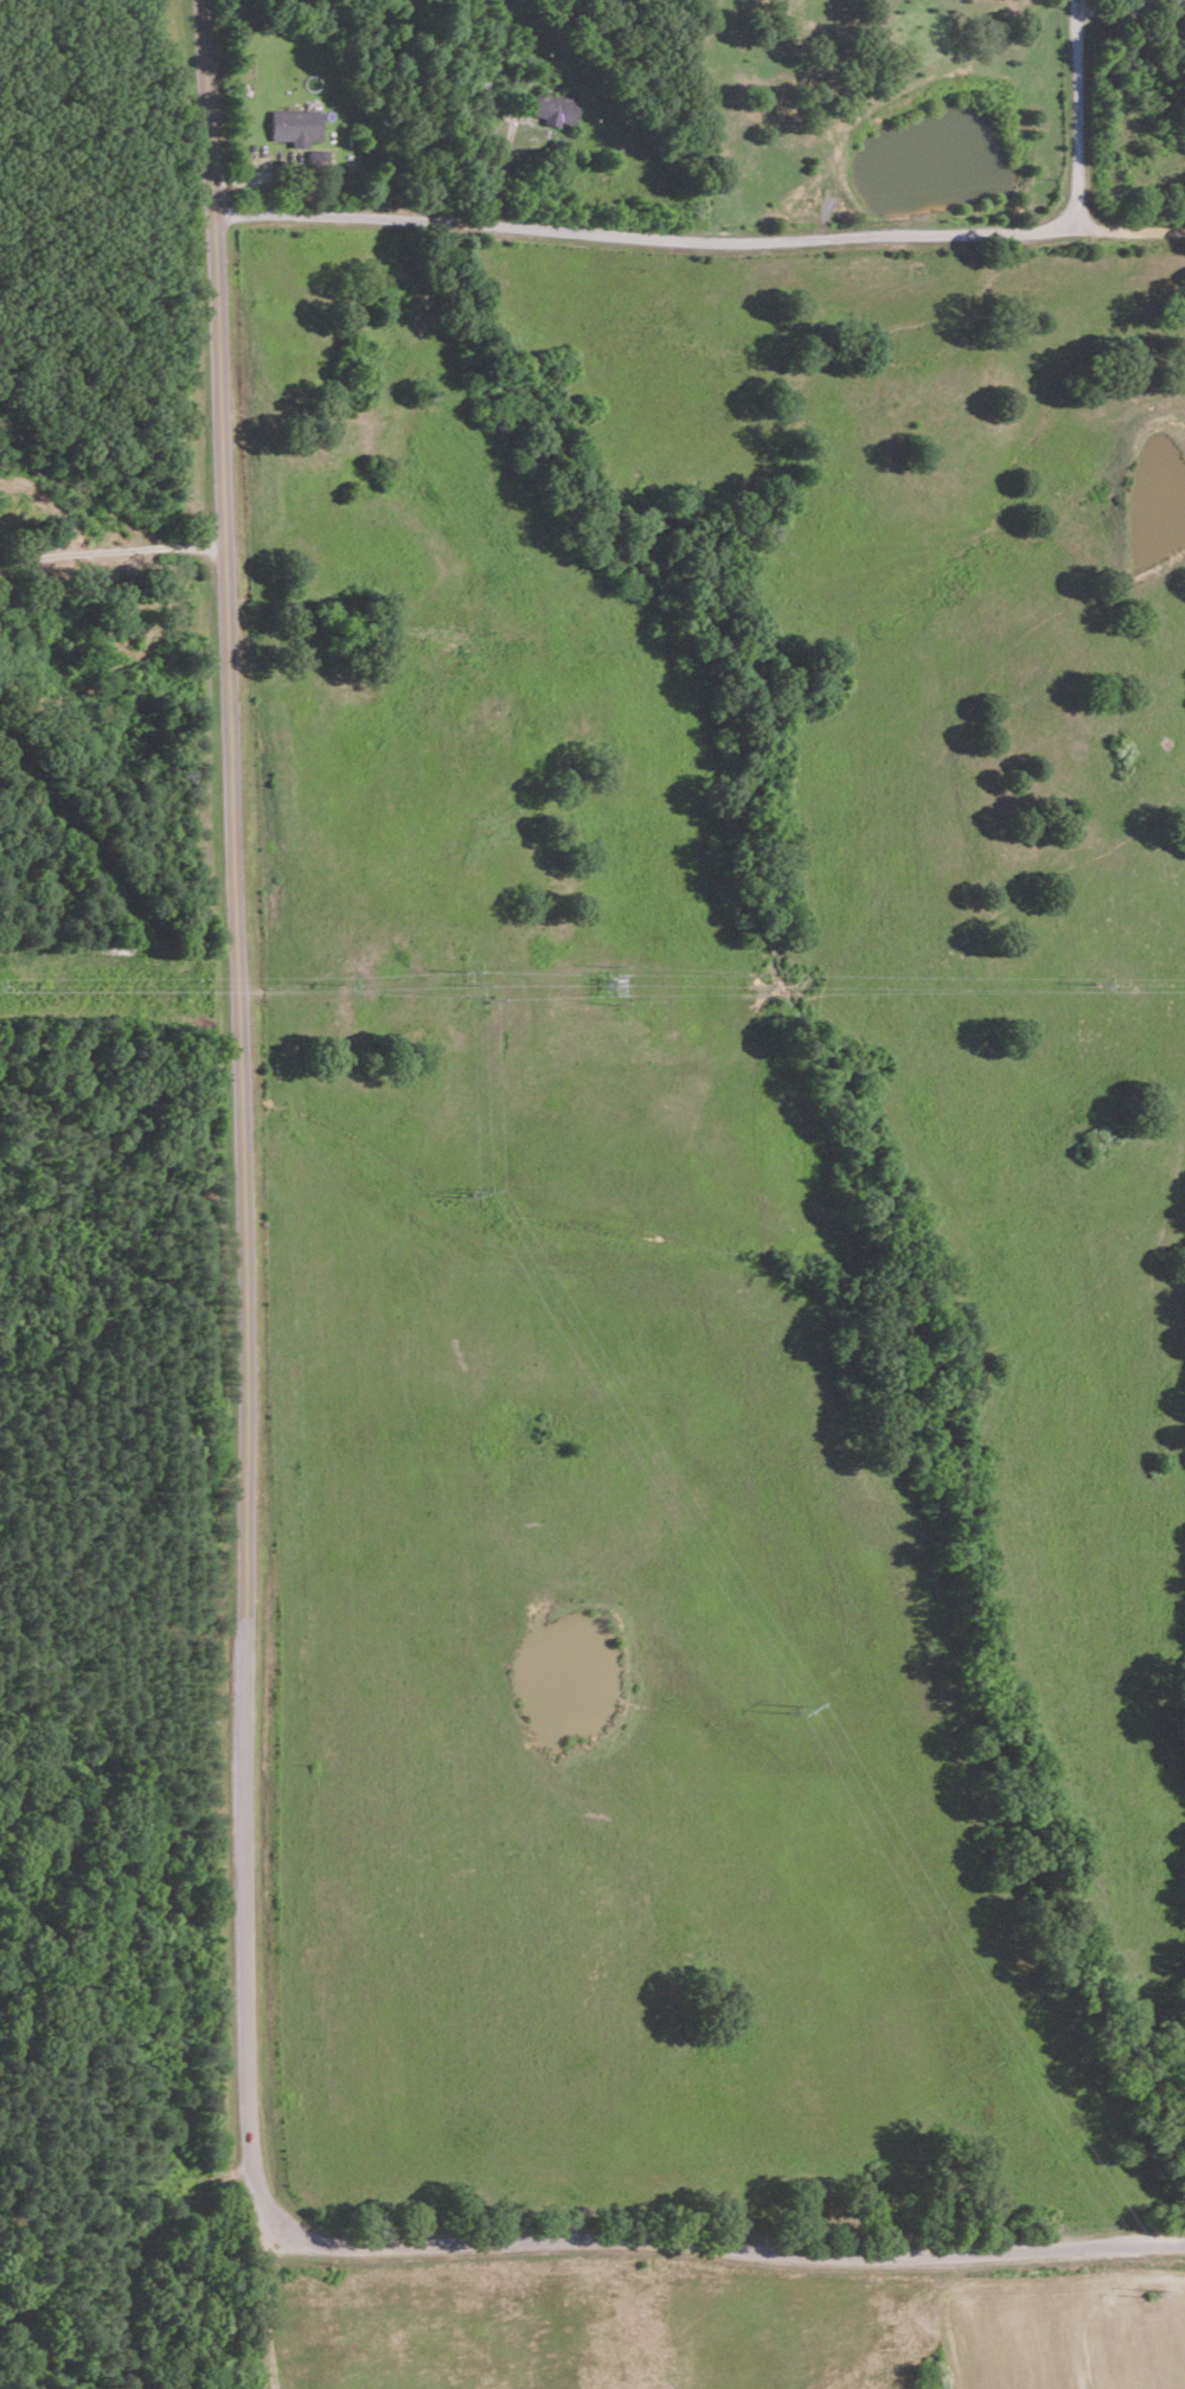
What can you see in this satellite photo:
road: (1115, 4)
building: (556, 107)
road: (1082, 114)
building: (295, 124)
road: (699, 237)
road: (111, 551)
power tower: (346, 984)
power tower: (476, 1192)
road: (244, 1193)
power tower: (796, 1710)
road: (728, 2240)
power tower: (1154, 2292)

